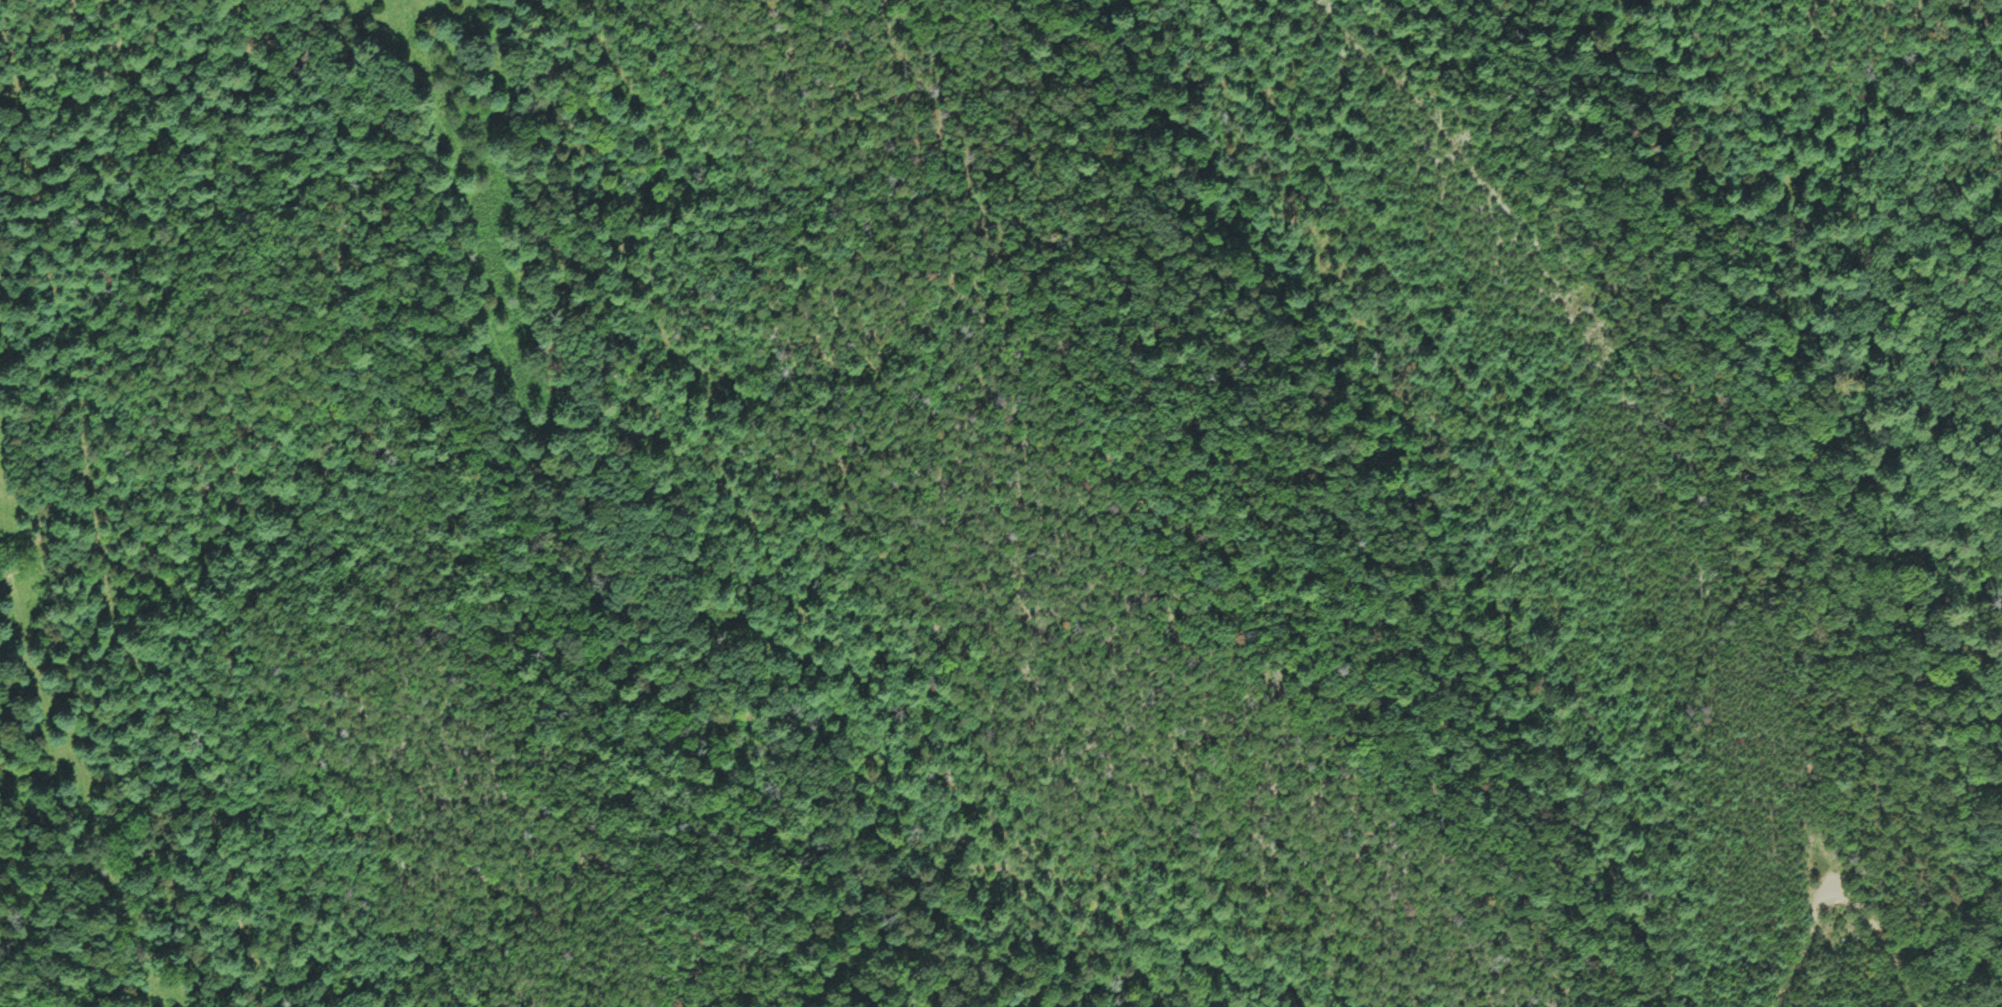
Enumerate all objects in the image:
road: (1826, 930)

